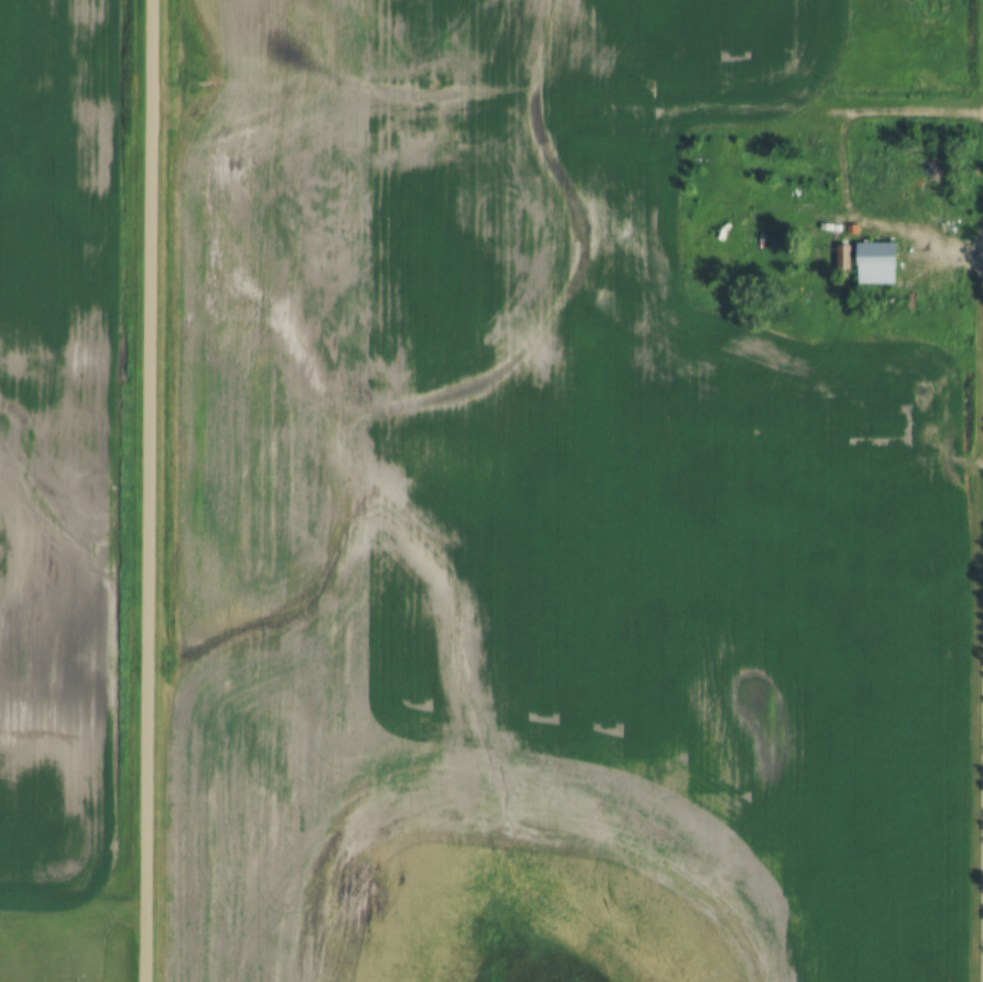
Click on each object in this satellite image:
road: (566, 108)
road: (901, 231)
building: (880, 264)
road: (147, 491)
park: (51, 946)

